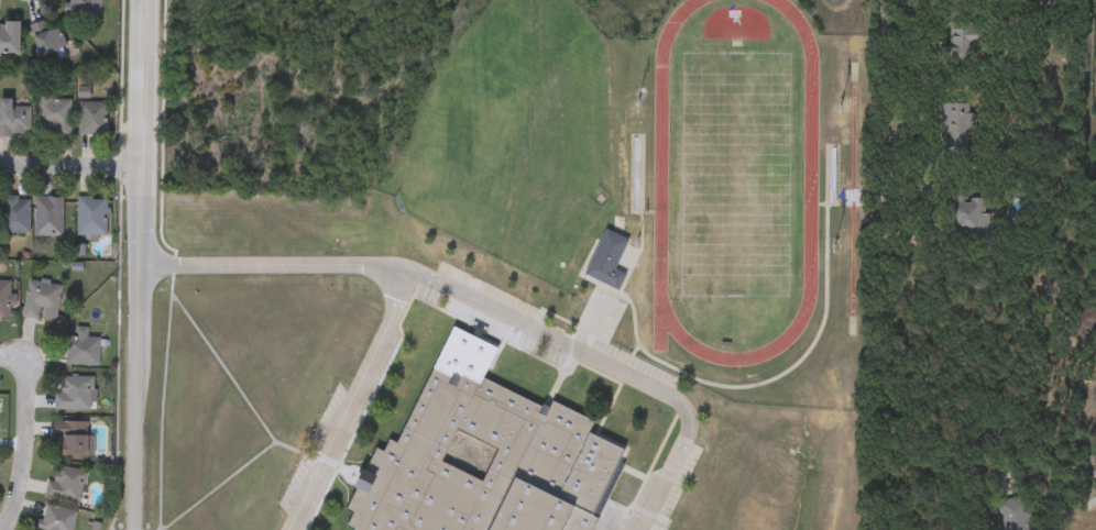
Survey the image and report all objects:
road: (143, 0)
road: (144, 0)
building: (83, 7)
building: (9, 38)
building: (46, 38)
building: (963, 42)
road: (141, 82)
building: (53, 113)
road: (885, 114)
building: (94, 119)
building: (13, 120)
building: (956, 125)
road: (69, 164)
track: (810, 173)
road: (138, 214)
building: (15, 216)
building: (966, 216)
building: (47, 217)
building: (90, 217)
building: (617, 224)
road: (255, 268)
building: (605, 275)
building: (6, 299)
building: (41, 301)
building: (1082, 327)
building: (80, 349)
road: (592, 354)
road: (13, 357)
road: (135, 390)
building: (75, 394)
road: (361, 398)
building: (73, 438)
road: (28, 448)
building: (473, 464)
road: (1046, 468)
building: (66, 484)
building: (1013, 514)
building: (56, 519)
road: (134, 522)

